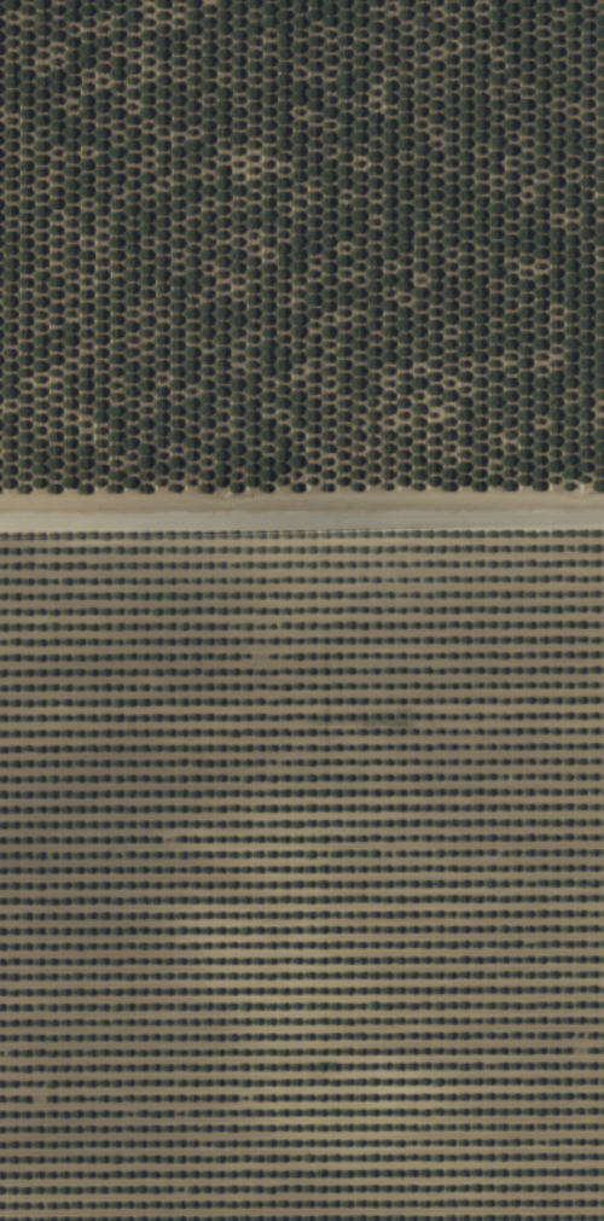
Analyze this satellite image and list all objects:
road: (302, 551)

